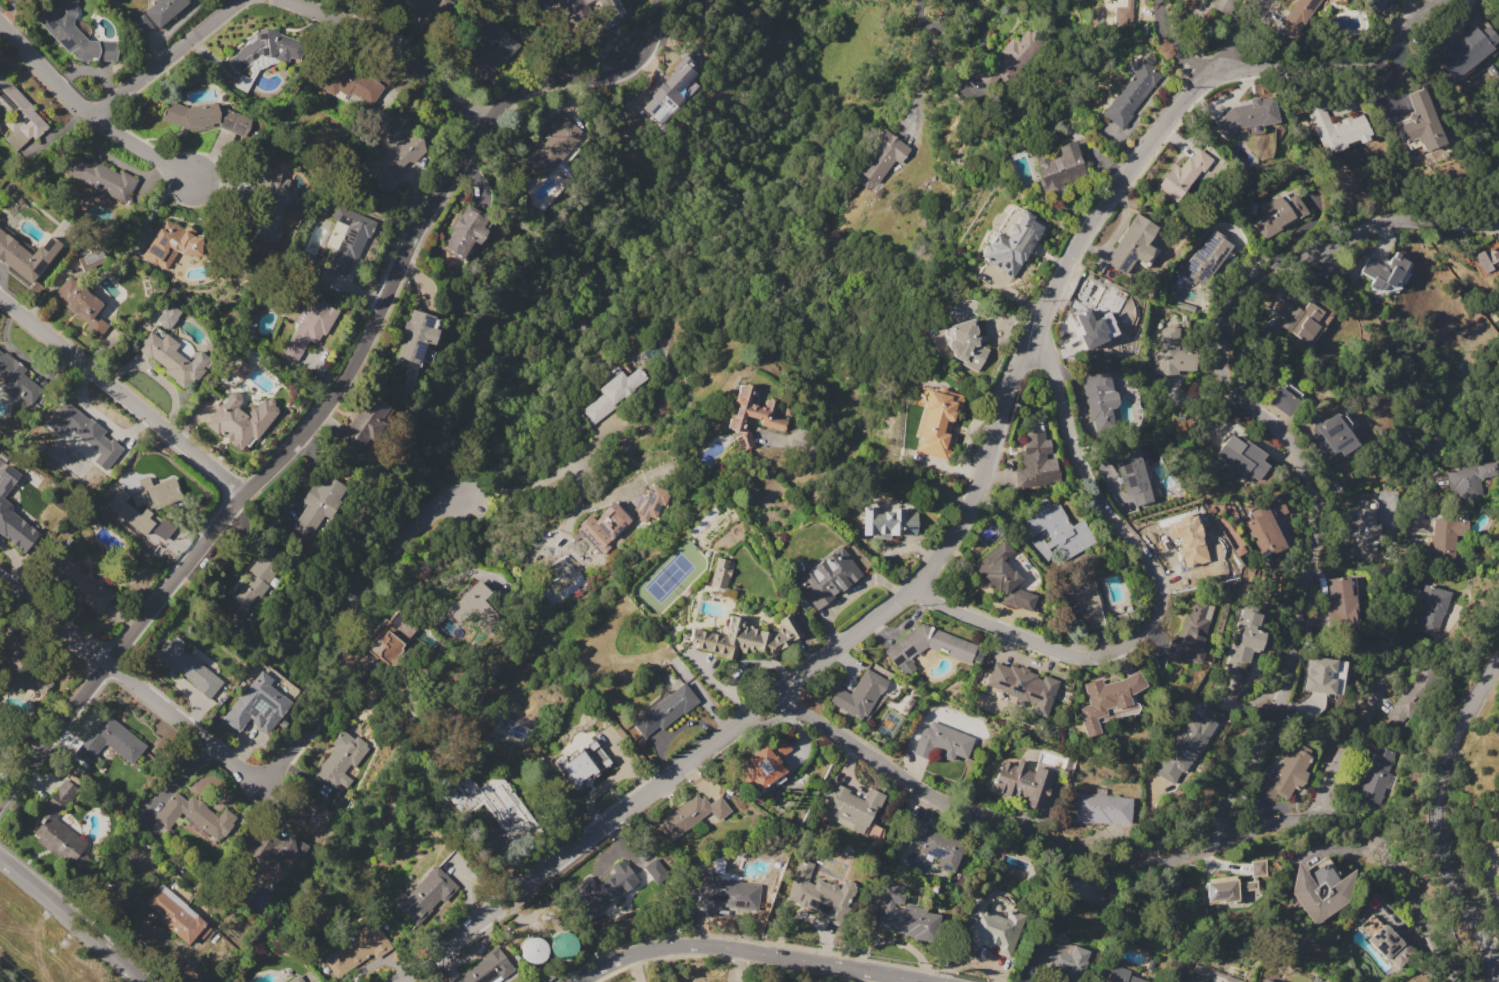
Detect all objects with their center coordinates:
building: (1339, 0)
building: (1224, 6)
building: (420, 8)
building: (573, 9)
building: (164, 10)
building: (1124, 12)
building: (1296, 17)
building: (141, 25)
road: (937, 29)
building: (74, 34)
road: (1239, 34)
road: (1173, 39)
building: (491, 46)
building: (265, 49)
road: (396, 49)
building: (1466, 50)
road: (168, 58)
building: (1009, 60)
road: (921, 78)
building: (350, 83)
building: (668, 92)
building: (1131, 94)
road: (94, 109)
building: (18, 115)
building: (1247, 115)
building: (199, 116)
building: (1420, 122)
building: (1338, 129)
building: (555, 145)
building: (400, 146)
building: (883, 156)
building: (1061, 167)
building: (1184, 174)
building: (100, 176)
building: (272, 207)
building: (1279, 214)
building: (465, 233)
building: (347, 238)
building: (171, 244)
building: (1012, 245)
building: (1132, 245)
building: (27, 255)
building: (1205, 259)
building: (1487, 259)
building: (1387, 274)
building: (81, 305)
building: (167, 316)
building: (1084, 316)
building: (1300, 319)
building: (310, 326)
building: (1098, 331)
building: (416, 336)
building: (966, 346)
building: (1172, 354)
building: (174, 359)
building: (241, 371)
building: (15, 377)
road: (343, 383)
building: (613, 393)
building: (1099, 395)
road: (121, 397)
building: (1285, 399)
building: (751, 415)
building: (240, 420)
building: (937, 420)
building: (364, 423)
road: (1276, 431)
building: (85, 433)
building: (1331, 436)
building: (1246, 460)
building: (1036, 461)
building: (157, 467)
building: (1132, 475)
road: (545, 477)
building: (1470, 479)
building: (1, 483)
building: (157, 492)
road: (969, 499)
building: (652, 502)
building: (320, 503)
building: (128, 510)
building: (888, 522)
building: (161, 528)
building: (17, 529)
building: (1055, 530)
building: (1264, 530)
building: (599, 531)
building: (1365, 531)
building: (1446, 539)
building: (1184, 544)
building: (719, 572)
building: (260, 576)
building: (828, 576)
building: (1004, 577)
building: (78, 583)
road: (1161, 597)
building: (466, 600)
building: (1085, 601)
building: (1341, 603)
building: (1433, 608)
building: (1192, 634)
building: (392, 638)
building: (747, 638)
building: (1246, 641)
building: (927, 647)
building: (20, 662)
road: (1386, 664)
building: (187, 666)
building: (1318, 675)
building: (1021, 681)
building: (860, 695)
building: (1412, 698)
building: (1109, 701)
building: (257, 705)
building: (666, 710)
building: (109, 741)
building: (942, 742)
building: (1184, 747)
building: (342, 759)
building: (764, 763)
building: (581, 764)
building: (1287, 773)
road: (273, 776)
building: (1376, 776)
road: (176, 782)
building: (1023, 782)
building: (492, 802)
building: (852, 809)
building: (1103, 809)
building: (192, 815)
building: (691, 815)
road: (1436, 819)
building: (59, 826)
building: (936, 845)
building: (270, 849)
road: (1143, 864)
building: (1259, 868)
building: (655, 869)
building: (607, 887)
building: (723, 889)
building: (1227, 889)
building: (1319, 889)
building: (819, 894)
building: (425, 895)
building: (905, 916)
building: (175, 917)
road: (71, 920)
building: (992, 925)
building: (563, 946)
building: (1391, 946)
building: (355, 949)
building: (533, 950)
road: (758, 952)
water tower: (566, 953)
water tower: (539, 959)
building: (1062, 959)
building: (487, 969)
building: (1120, 976)
building: (296, 979)
building: (1263, 981)

